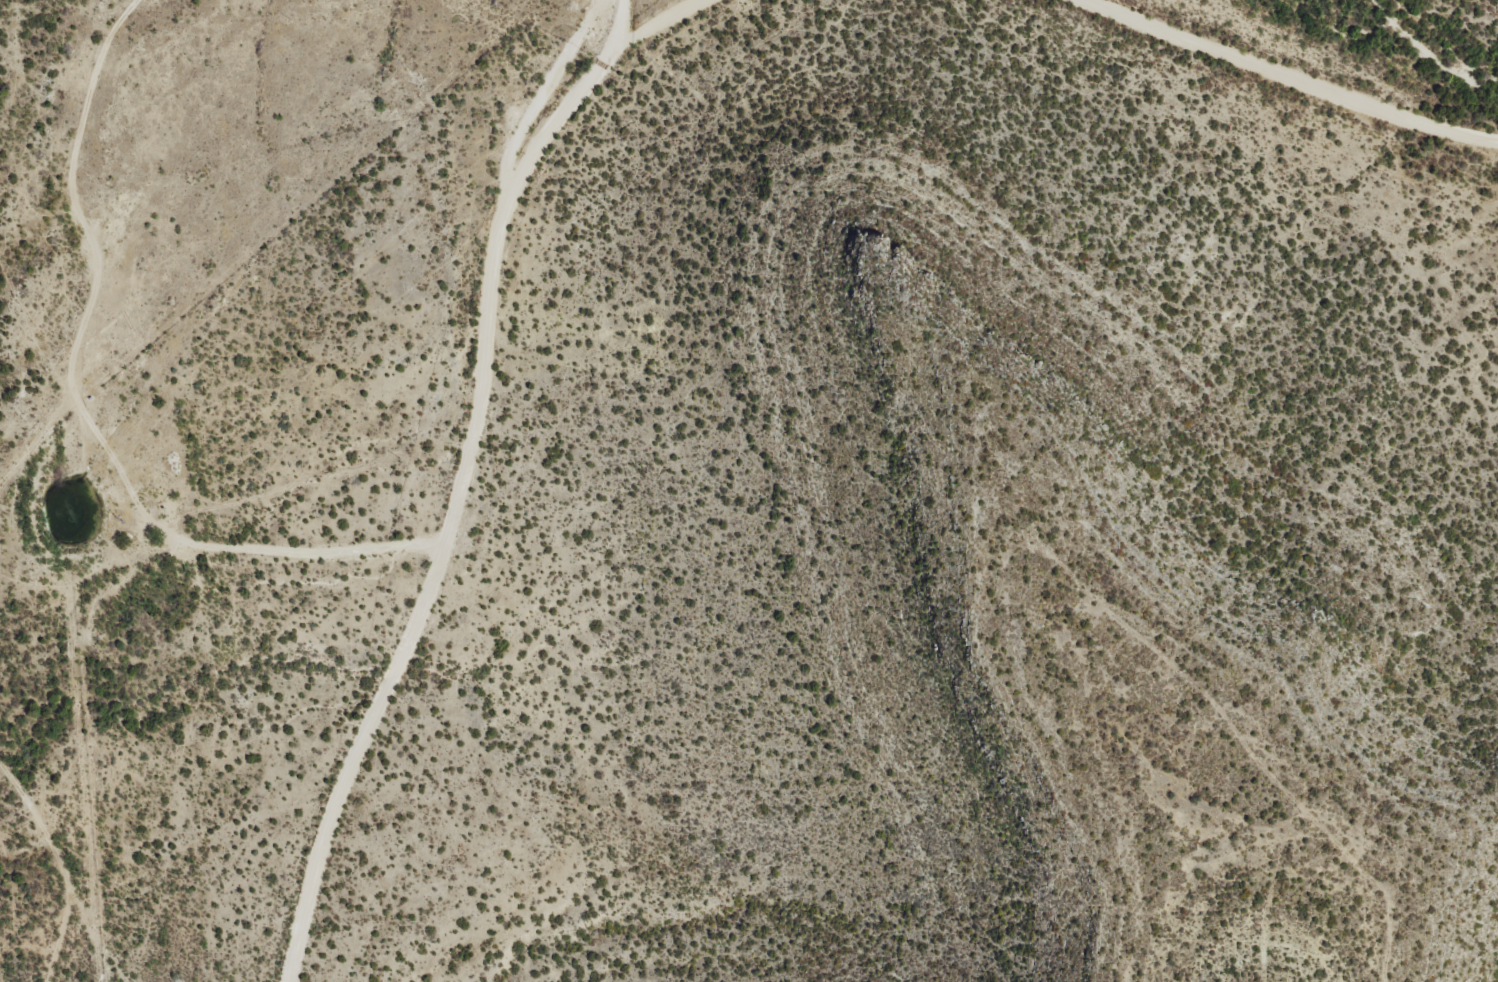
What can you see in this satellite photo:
road: (1275, 90)
road: (296, 204)
road: (505, 413)

